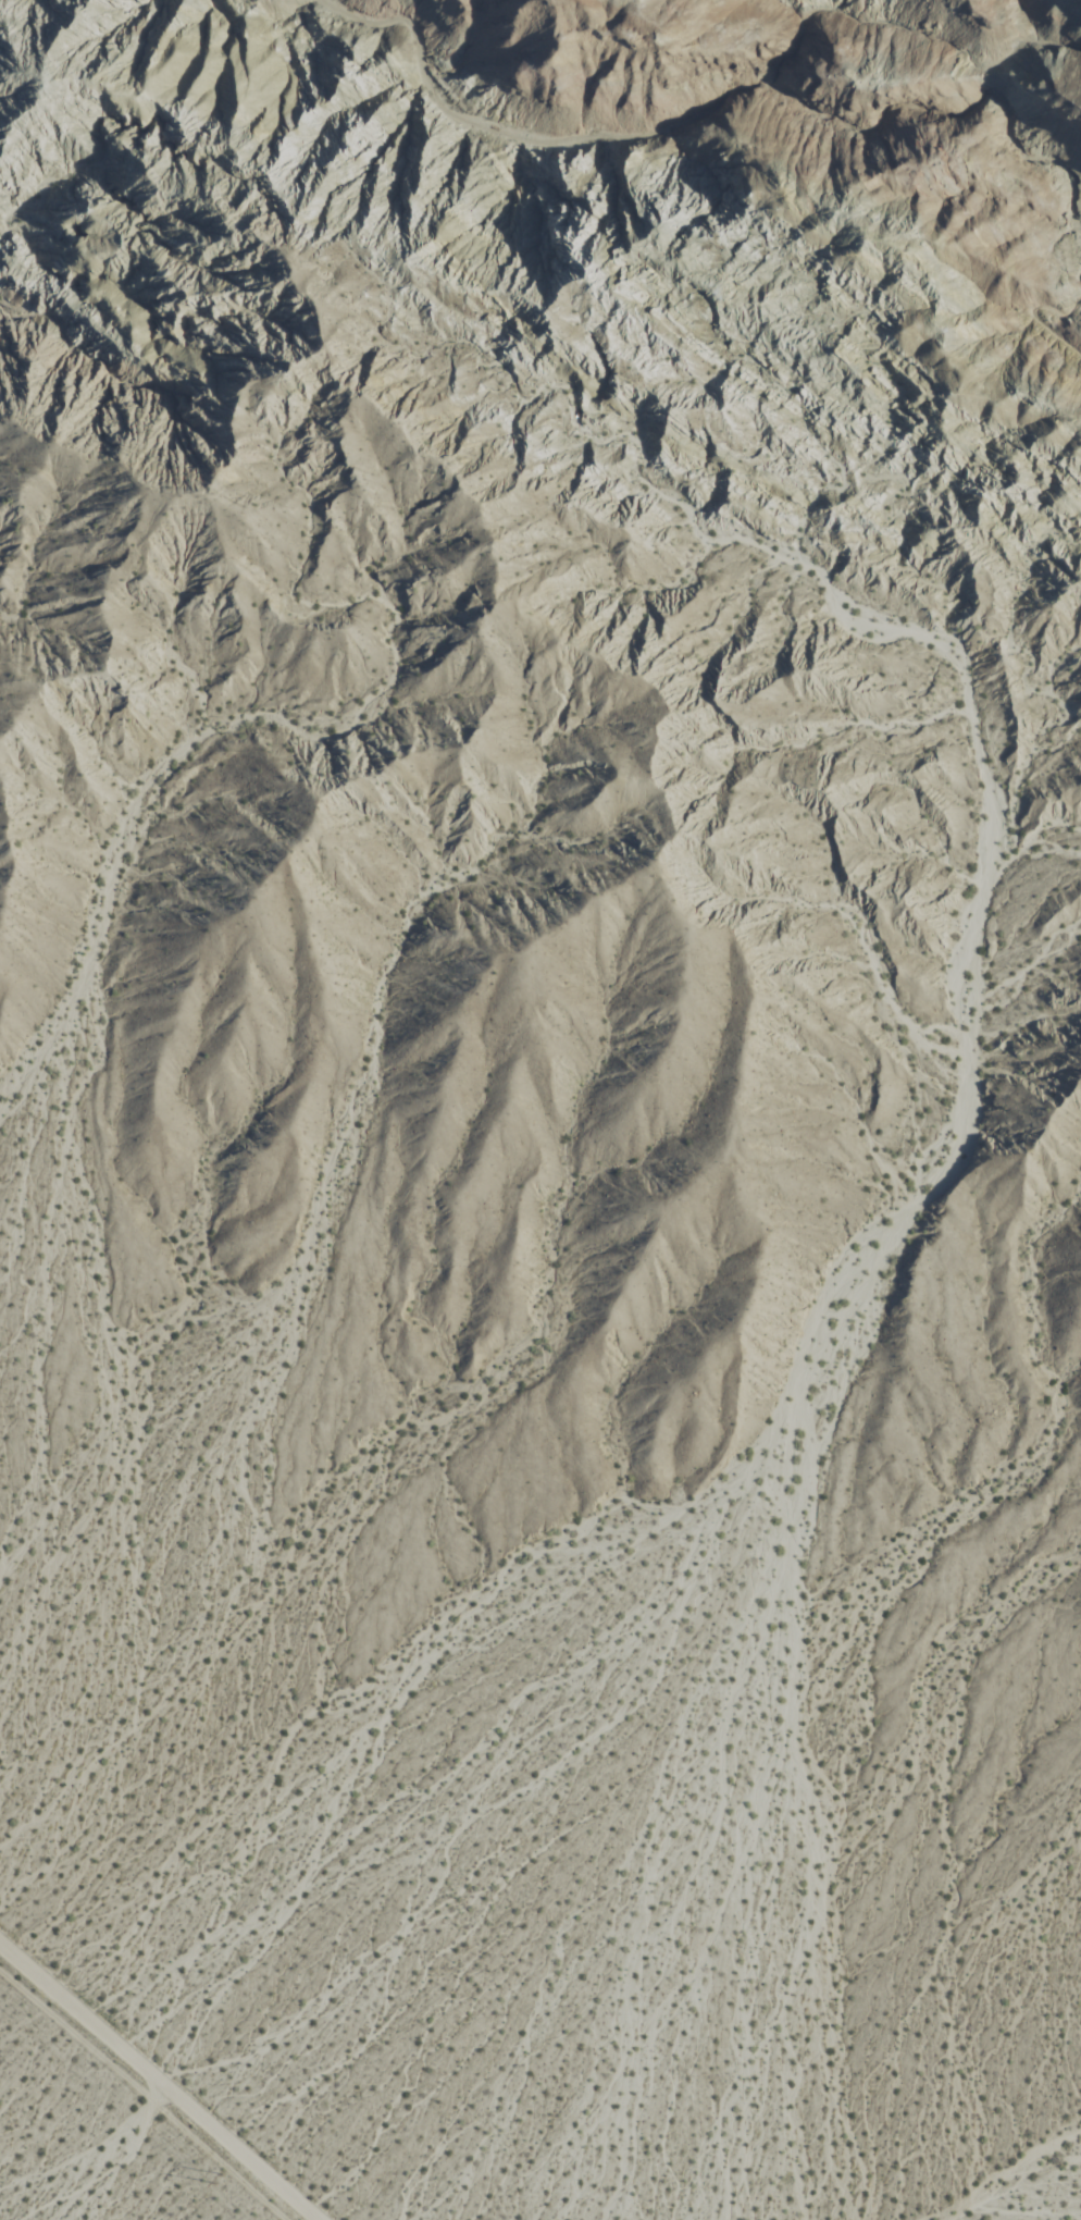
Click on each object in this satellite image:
road: (164, 2076)
power tower: (224, 2180)

